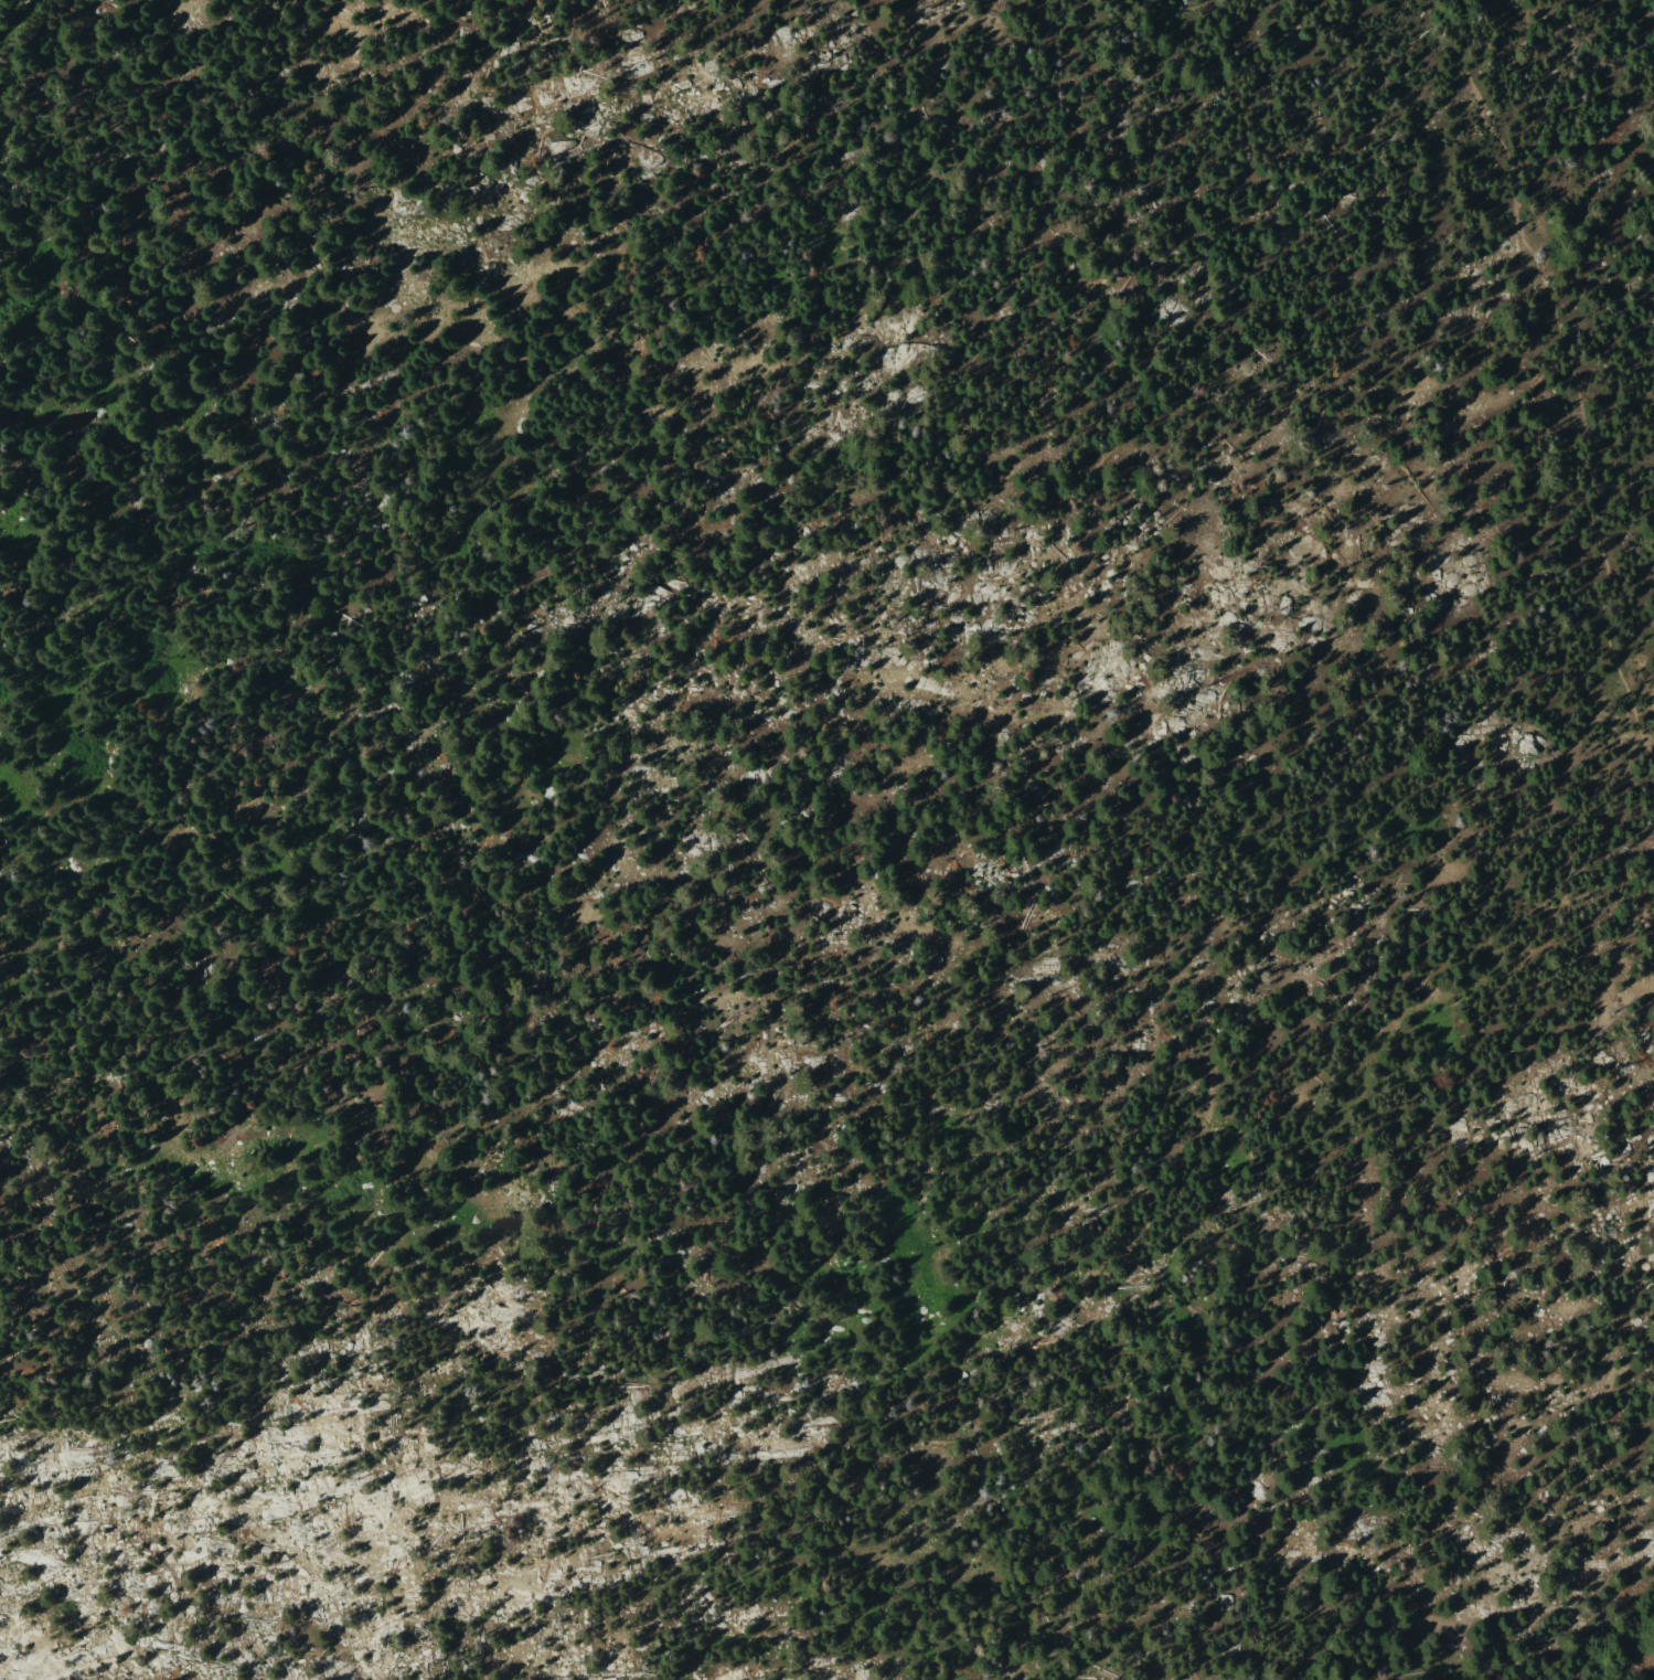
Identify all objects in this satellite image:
road: (1570, 370)
road: (664, 1173)

